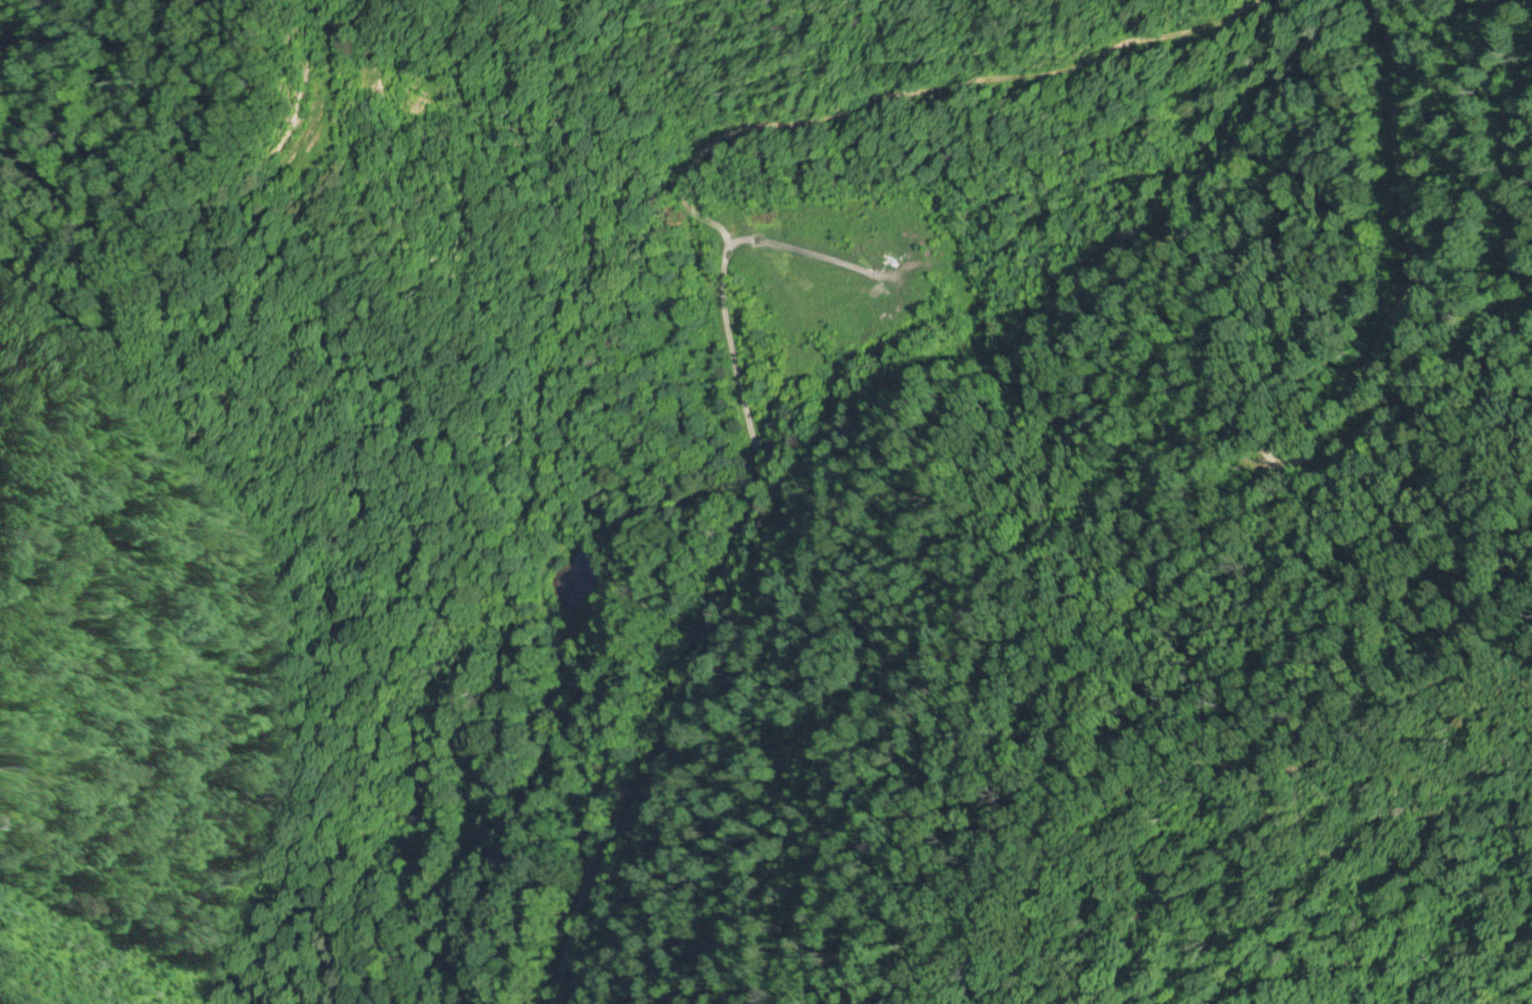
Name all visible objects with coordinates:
road: (892, 91)
road: (1310, 448)
road: (713, 606)

